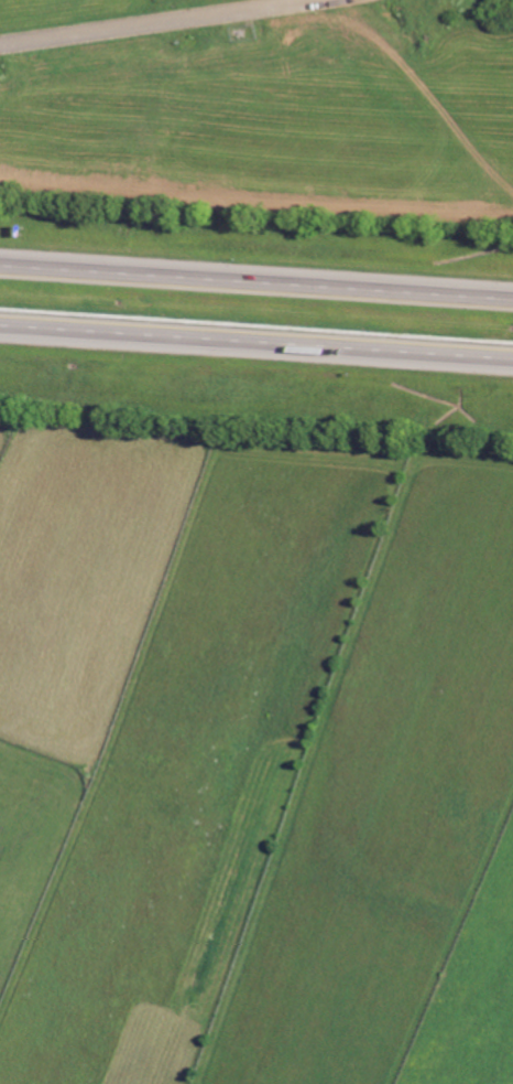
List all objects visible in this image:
road: (248, 4)
road: (154, 22)
road: (256, 278)
road: (255, 346)

